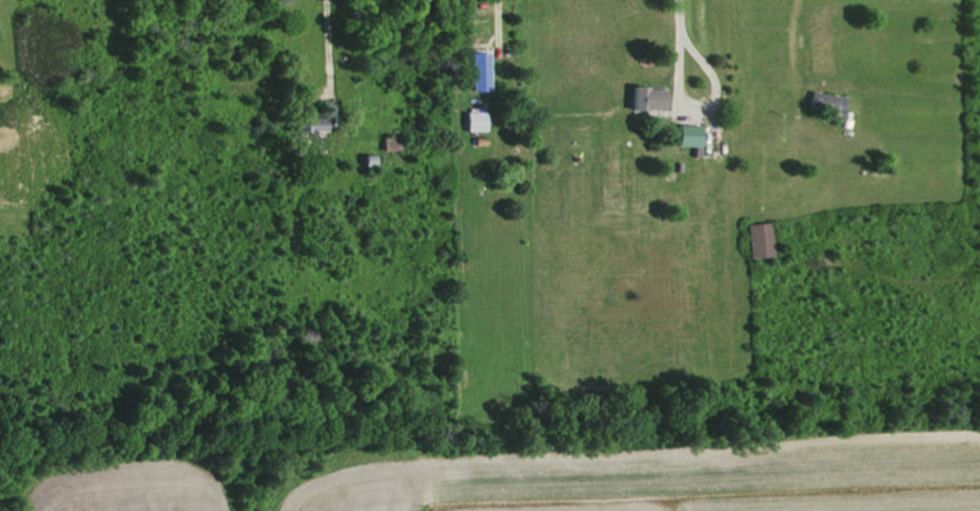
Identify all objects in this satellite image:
road: (683, 15)
road: (329, 46)
building: (475, 71)
building: (642, 98)
building: (821, 101)
road: (703, 110)
building: (308, 123)
building: (684, 136)
building: (387, 143)
building: (755, 239)

